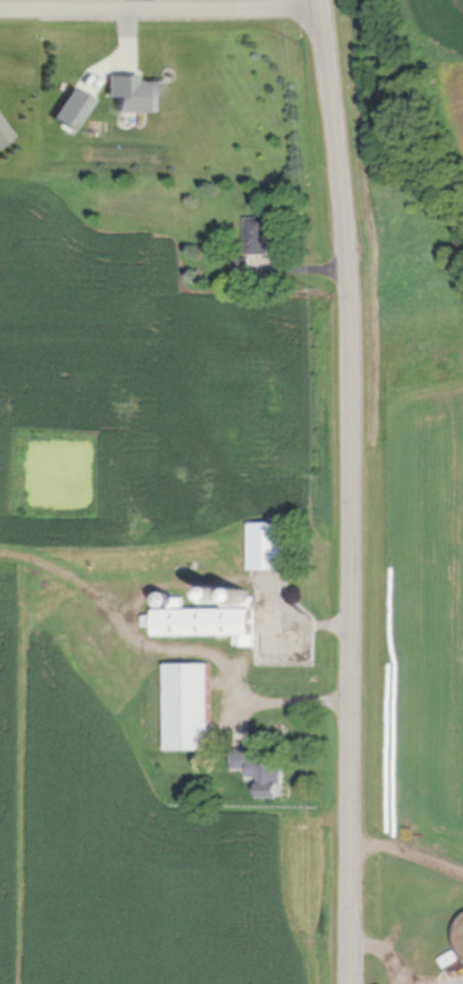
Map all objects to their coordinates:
road: (162, 9)
building: (134, 98)
building: (3, 138)
building: (260, 240)
building: (242, 272)
road: (354, 491)
building: (271, 552)
building: (229, 597)
building: (246, 597)
road: (133, 619)
building: (204, 628)
building: (192, 714)
building: (264, 778)
road: (410, 852)
road: (386, 949)
road: (431, 980)

